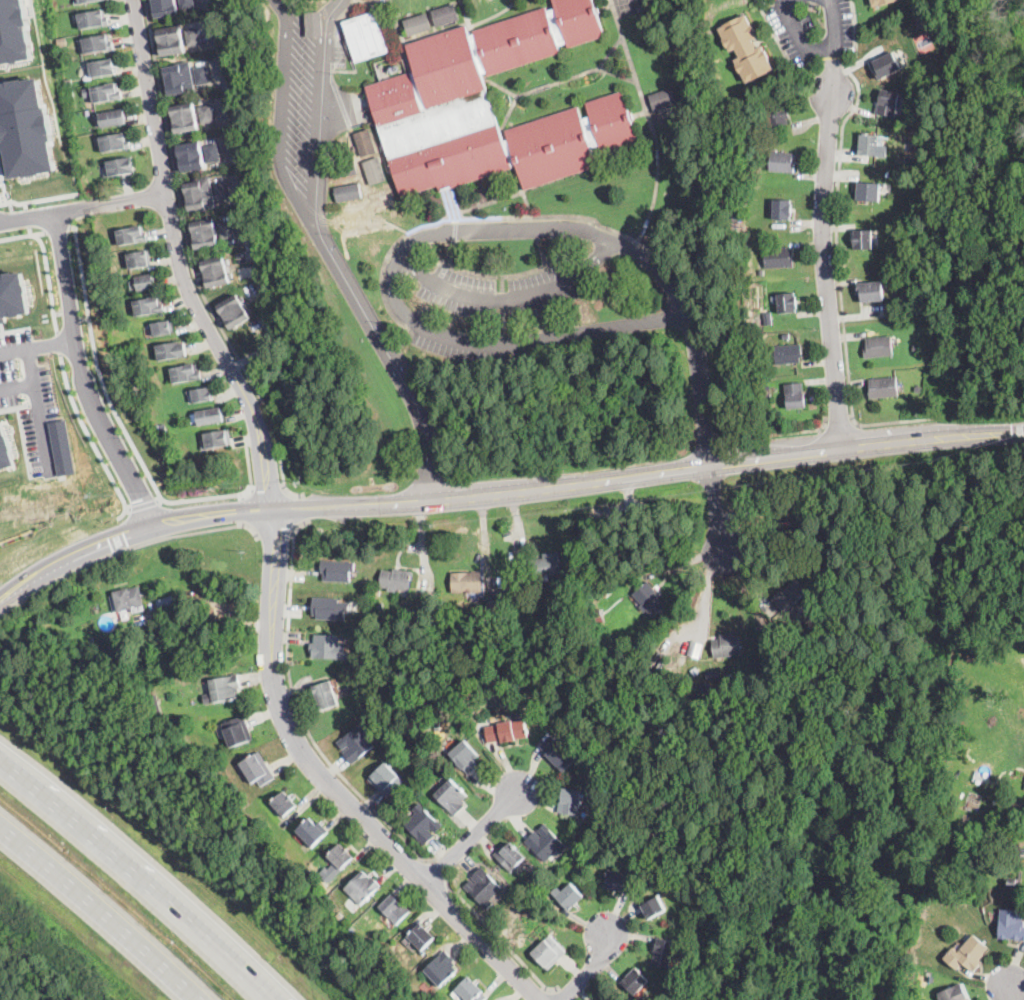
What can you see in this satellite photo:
building: (85, 1)
building: (882, 2)
building: (187, 3)
building: (166, 8)
building: (446, 15)
building: (94, 19)
building: (919, 23)
building: (418, 24)
building: (15, 31)
road: (800, 33)
building: (365, 36)
building: (193, 37)
building: (63, 40)
building: (172, 41)
building: (97, 44)
building: (746, 49)
building: (886, 66)
building: (103, 68)
building: (202, 75)
building: (180, 79)
building: (69, 82)
building: (73, 92)
building: (107, 93)
building: (430, 97)
building: (663, 97)
building: (888, 103)
building: (207, 114)
building: (777, 117)
building: (113, 118)
building: (185, 118)
road: (649, 119)
building: (917, 119)
building: (26, 127)
building: (115, 143)
building: (366, 143)
building: (869, 145)
building: (907, 146)
building: (213, 153)
building: (192, 157)
building: (782, 161)
building: (121, 166)
building: (345, 168)
building: (375, 171)
road: (3, 184)
building: (222, 191)
building: (868, 192)
road: (244, 193)
building: (350, 193)
building: (201, 195)
road: (38, 199)
building: (383, 201)
road: (83, 206)
building: (783, 209)
road: (508, 216)
building: (355, 218)
building: (736, 218)
road: (823, 224)
road: (837, 226)
road: (57, 228)
road: (317, 229)
road: (365, 229)
building: (228, 230)
road: (454, 230)
building: (205, 233)
road: (23, 235)
building: (132, 235)
building: (864, 240)
road: (542, 250)
road: (451, 251)
building: (778, 258)
building: (140, 259)
road: (179, 262)
road: (192, 262)
building: (217, 272)
building: (762, 272)
road: (501, 274)
road: (48, 281)
building: (145, 282)
building: (871, 291)
building: (11, 294)
road: (508, 300)
building: (788, 303)
building: (149, 307)
building: (236, 312)
building: (768, 319)
building: (163, 328)
building: (787, 335)
road: (57, 343)
road: (36, 346)
building: (879, 347)
building: (916, 348)
building: (172, 351)
building: (789, 354)
road: (393, 360)
building: (186, 373)
road: (82, 375)
road: (31, 381)
building: (884, 388)
building: (919, 389)
building: (202, 395)
building: (795, 396)
road: (111, 403)
building: (210, 417)
road: (840, 423)
road: (40, 427)
road: (811, 429)
road: (90, 438)
building: (218, 440)
road: (427, 444)
building: (60, 446)
building: (4, 450)
road: (251, 469)
road: (269, 490)
road: (503, 491)
road: (159, 498)
road: (144, 503)
road: (128, 507)
road: (716, 512)
building: (784, 514)
building: (825, 518)
road: (276, 527)
building: (848, 545)
building: (609, 548)
road: (126, 550)
building: (547, 566)
building: (337, 569)
building: (396, 580)
building: (467, 583)
building: (378, 590)
building: (496, 594)
building: (789, 596)
road: (197, 597)
building: (648, 599)
building: (128, 600)
building: (384, 601)
building: (495, 604)
building: (167, 605)
building: (330, 607)
building: (597, 615)
building: (567, 624)
building: (328, 646)
building: (727, 646)
building: (106, 649)
building: (695, 649)
building: (733, 671)
building: (695, 672)
building: (713, 673)
building: (225, 689)
building: (326, 696)
building: (153, 713)
road: (300, 713)
building: (597, 727)
building: (238, 731)
building: (507, 731)
building: (357, 743)
building: (559, 754)
building: (466, 757)
building: (258, 769)
building: (597, 772)
building: (387, 780)
road: (333, 787)
building: (452, 796)
building: (230, 802)
building: (570, 802)
building: (284, 803)
building: (423, 824)
building: (313, 832)
road: (471, 833)
building: (546, 843)
building: (1008, 853)
building: (341, 856)
building: (510, 856)
building: (649, 864)
road: (140, 871)
road: (437, 871)
building: (620, 881)
building: (541, 882)
building: (1012, 883)
building: (363, 888)
building: (483, 888)
building: (570, 896)
building: (522, 902)
building: (655, 908)
building: (395, 909)
road: (98, 913)
building: (1011, 925)
building: (421, 936)
road: (502, 940)
building: (550, 952)
building: (664, 953)
building: (968, 954)
building: (442, 968)
road: (590, 968)
building: (635, 981)
building: (408, 985)
building: (471, 990)
road: (1011, 990)
building: (954, 993)
road: (559, 995)
building: (0, 999)
building: (609, 999)

